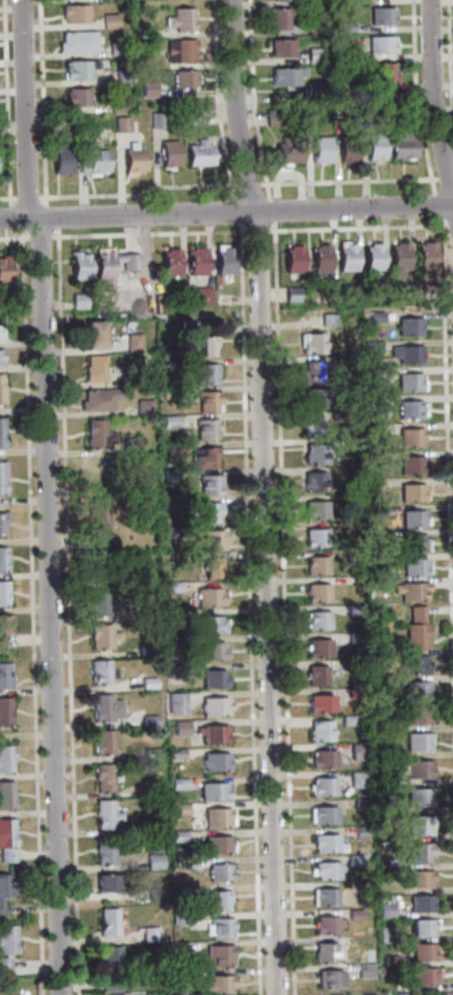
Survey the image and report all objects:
building: (313, 2)
building: (74, 13)
building: (380, 15)
building: (279, 17)
building: (180, 19)
building: (109, 21)
building: (345, 27)
building: (313, 28)
building: (145, 32)
building: (77, 41)
building: (379, 44)
building: (280, 47)
building: (115, 48)
building: (179, 50)
building: (138, 52)
building: (344, 53)
building: (313, 54)
road: (449, 56)
building: (78, 69)
building: (384, 73)
building: (121, 76)
building: (285, 76)
building: (183, 78)
building: (313, 88)
building: (148, 89)
road: (433, 95)
building: (76, 96)
road: (414, 98)
road: (215, 99)
road: (251, 100)
road: (6, 103)
road: (41, 103)
building: (116, 106)
building: (365, 107)
road: (23, 109)
building: (402, 113)
building: (190, 117)
building: (274, 117)
building: (157, 120)
building: (120, 124)
building: (0, 129)
building: (401, 145)
building: (373, 147)
building: (346, 148)
building: (319, 149)
building: (287, 150)
building: (168, 153)
building: (198, 153)
building: (60, 159)
building: (91, 161)
building: (132, 161)
road: (445, 181)
road: (348, 183)
road: (247, 184)
road: (137, 193)
road: (7, 198)
road: (26, 198)
road: (437, 208)
road: (235, 211)
road: (271, 212)
road: (226, 213)
road: (50, 217)
road: (15, 218)
road: (449, 227)
road: (357, 230)
road: (256, 233)
road: (147, 234)
road: (38, 237)
road: (13, 238)
building: (425, 255)
building: (372, 257)
building: (320, 258)
building: (346, 258)
building: (398, 258)
building: (222, 259)
building: (292, 259)
building: (195, 261)
building: (169, 262)
building: (78, 265)
building: (129, 265)
building: (3, 270)
building: (406, 291)
building: (353, 292)
building: (291, 294)
building: (202, 296)
building: (78, 300)
building: (10, 302)
building: (375, 316)
building: (327, 320)
building: (408, 326)
building: (185, 327)
building: (1, 333)
building: (92, 335)
building: (132, 342)
building: (311, 343)
building: (206, 346)
building: (371, 346)
building: (407, 354)
building: (0, 360)
building: (338, 361)
building: (171, 366)
building: (93, 368)
building: (309, 371)
building: (375, 373)
building: (201, 374)
building: (128, 380)
building: (408, 381)
building: (168, 393)
building: (0, 395)
building: (313, 397)
building: (97, 399)
building: (207, 401)
building: (374, 404)
building: (143, 407)
building: (409, 410)
building: (337, 415)
building: (170, 421)
building: (311, 426)
building: (206, 429)
building: (373, 430)
building: (0, 434)
building: (96, 434)
building: (410, 437)
building: (353, 443)
building: (131, 445)
building: (174, 448)
building: (315, 454)
road: (446, 455)
building: (204, 457)
building: (375, 458)
building: (411, 465)
building: (170, 475)
building: (1, 478)
building: (312, 482)
building: (373, 484)
building: (209, 485)
building: (411, 493)
road: (262, 496)
building: (314, 510)
building: (206, 511)
building: (376, 511)
building: (412, 518)
building: (96, 522)
building: (1, 525)
building: (171, 531)
building: (376, 536)
building: (315, 538)
building: (211, 539)
building: (412, 543)
building: (352, 557)
building: (2, 559)
building: (377, 563)
building: (316, 565)
building: (101, 567)
building: (211, 567)
building: (413, 567)
building: (143, 578)
building: (376, 584)
building: (170, 587)
building: (409, 591)
building: (3, 593)
building: (316, 593)
building: (208, 597)
building: (100, 602)
road: (48, 606)
road: (248, 610)
road: (283, 610)
building: (354, 610)
road: (67, 611)
road: (30, 612)
building: (172, 614)
building: (146, 615)
building: (317, 620)
building: (208, 624)
building: (3, 625)
building: (416, 629)
building: (102, 636)
building: (356, 638)
building: (170, 641)
building: (318, 648)
building: (146, 650)
building: (211, 651)
building: (380, 658)
building: (411, 664)
building: (174, 671)
building: (101, 672)
building: (4, 676)
building: (316, 676)
building: (213, 679)
building: (383, 680)
building: (148, 683)
building: (416, 691)
building: (355, 692)
building: (176, 703)
building: (319, 704)
building: (214, 706)
building: (105, 708)
building: (4, 711)
building: (416, 716)
building: (149, 720)
building: (348, 721)
building: (381, 725)
building: (180, 727)
building: (320, 731)
building: (214, 735)
building: (103, 742)
building: (417, 742)
building: (358, 751)
building: (384, 752)
building: (150, 753)
building: (176, 753)
building: (5, 758)
building: (322, 759)
building: (214, 762)
building: (417, 769)
building: (105, 777)
building: (357, 779)
building: (178, 784)
building: (322, 786)
building: (211, 791)
building: (150, 792)
building: (6, 795)
building: (418, 797)
building: (360, 804)
building: (179, 808)
building: (104, 815)
building: (323, 816)
building: (215, 818)
building: (418, 826)
building: (151, 828)
building: (361, 831)
building: (178, 836)
building: (6, 840)
building: (324, 843)
building: (215, 845)
building: (105, 851)
building: (418, 852)
building: (153, 861)
building: (353, 861)
building: (189, 865)
building: (325, 870)
building: (218, 872)
building: (416, 879)
building: (104, 884)
building: (4, 890)
building: (184, 894)
building: (155, 896)
building: (325, 897)
building: (219, 901)
building: (419, 904)
building: (384, 911)
building: (353, 915)
building: (181, 920)
building: (107, 923)
building: (325, 925)
building: (220, 928)
building: (420, 928)
building: (386, 933)
building: (149, 934)
building: (6, 945)
building: (422, 952)
building: (325, 953)
building: (218, 955)
building: (109, 960)
building: (390, 960)
building: (364, 970)
building: (186, 974)
building: (420, 977)
building: (328, 978)
building: (218, 985)
building: (109, 986)
building: (338, 994)
building: (401, 994)
building: (443, 994)

